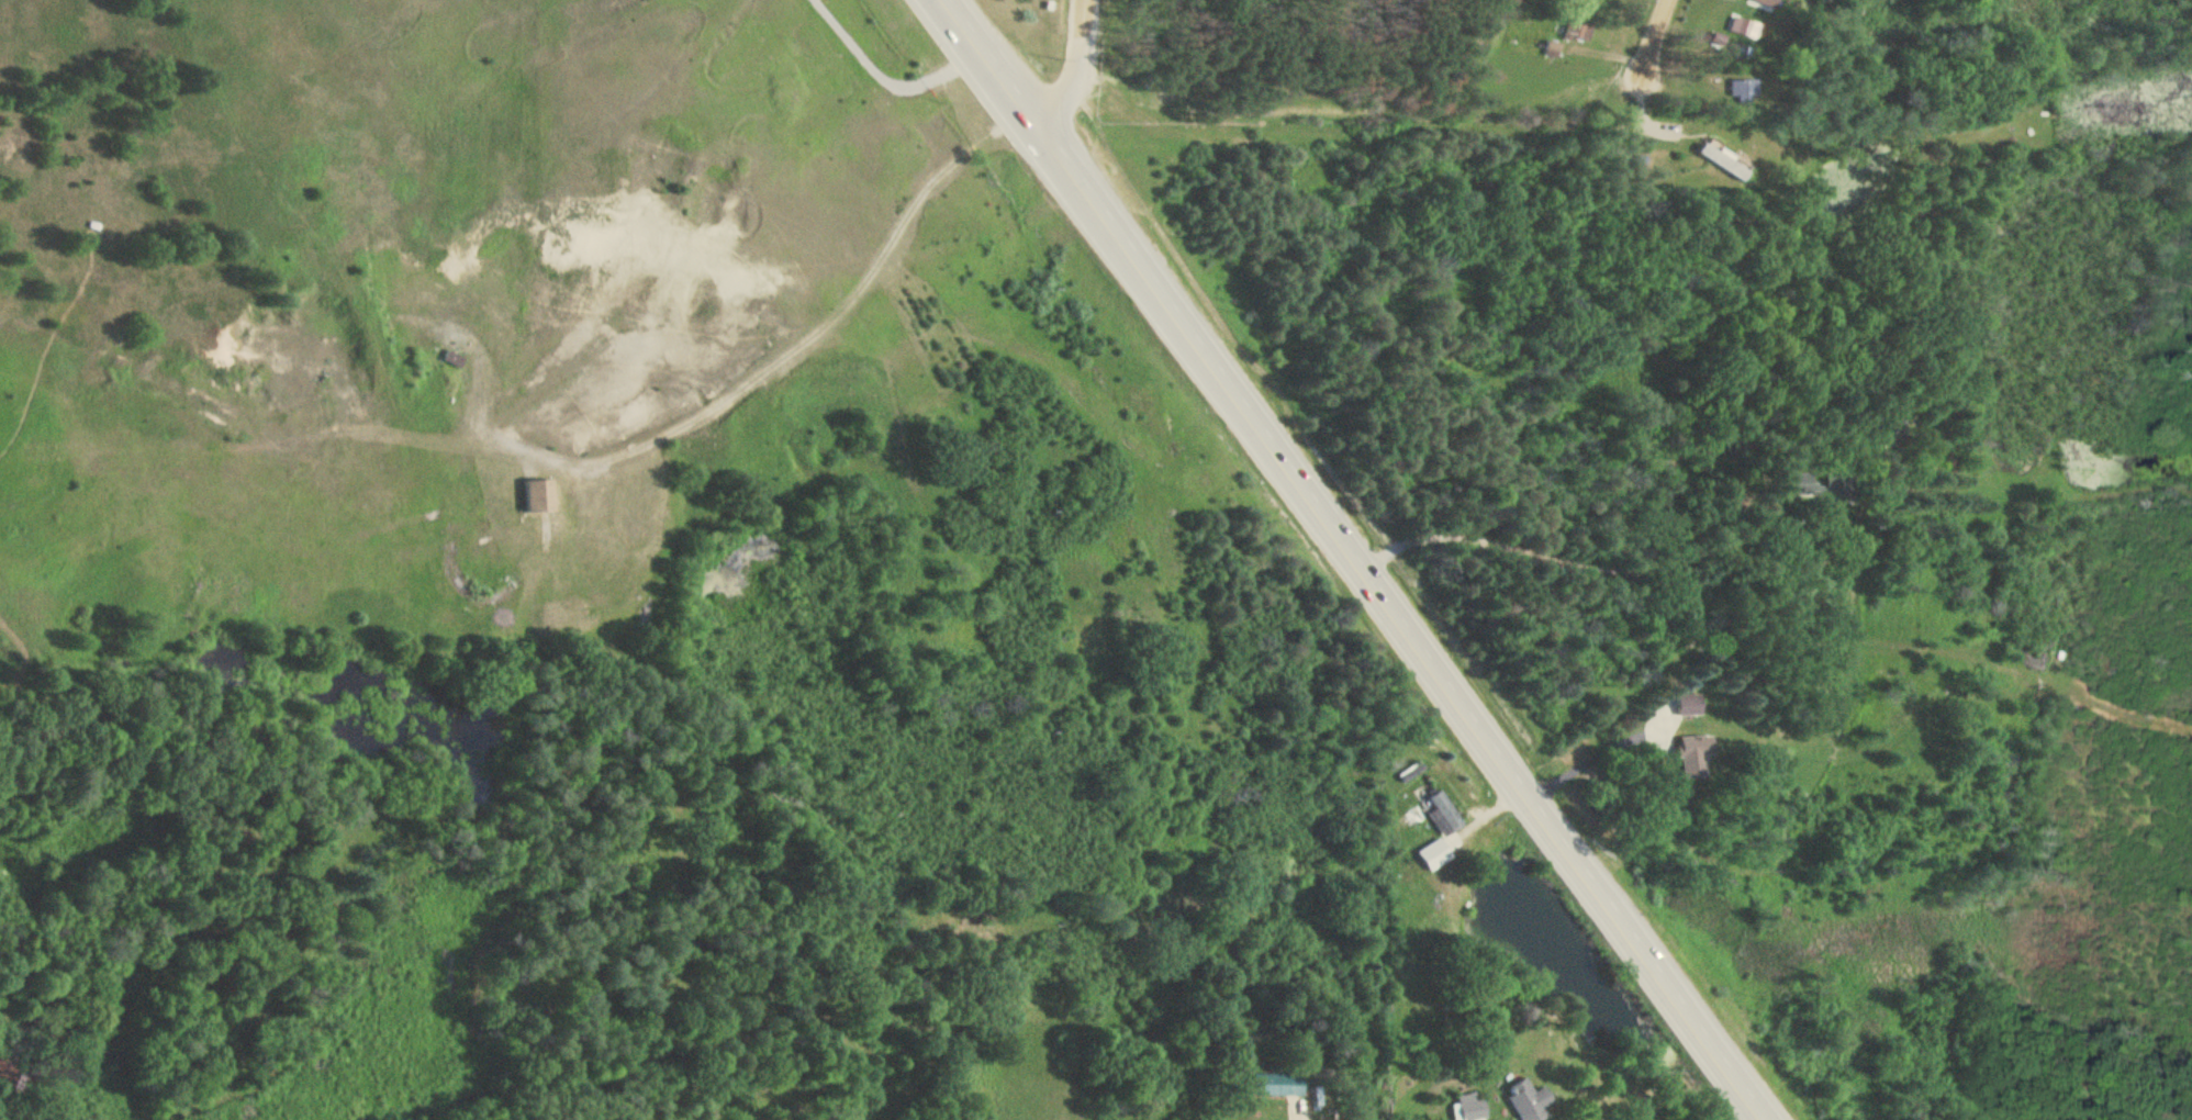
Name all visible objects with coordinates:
road: (1662, 24)
building: (1578, 31)
road: (1082, 72)
road: (887, 76)
building: (1747, 89)
building: (1727, 159)
road: (832, 312)
road: (1357, 559)
road: (1591, 617)
building: (1692, 704)
building: (1698, 754)
building: (1443, 811)
building: (1434, 854)
building: (4, 1072)
building: (1276, 1079)
building: (1520, 1095)
building: (1466, 1102)
road: (1296, 1108)
road: (1501, 1117)

